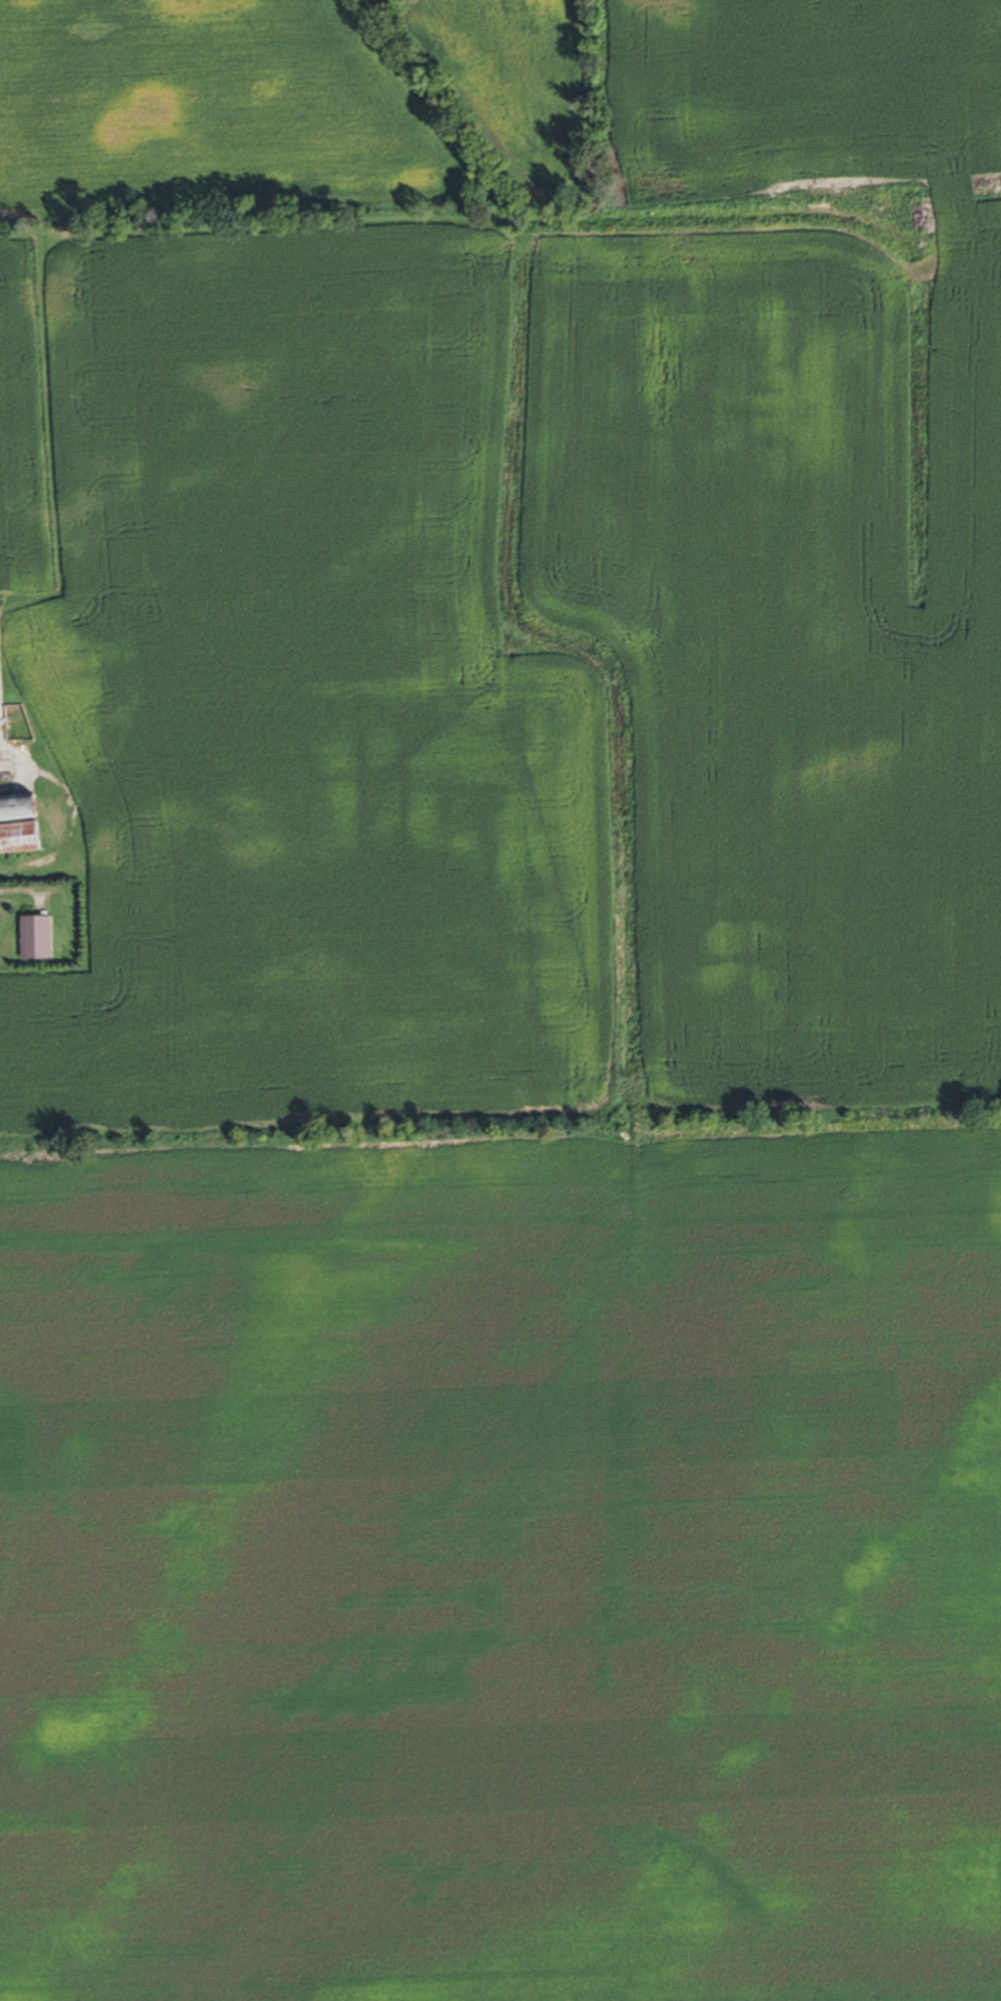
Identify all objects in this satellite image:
building: (22, 827)
building: (38, 941)

